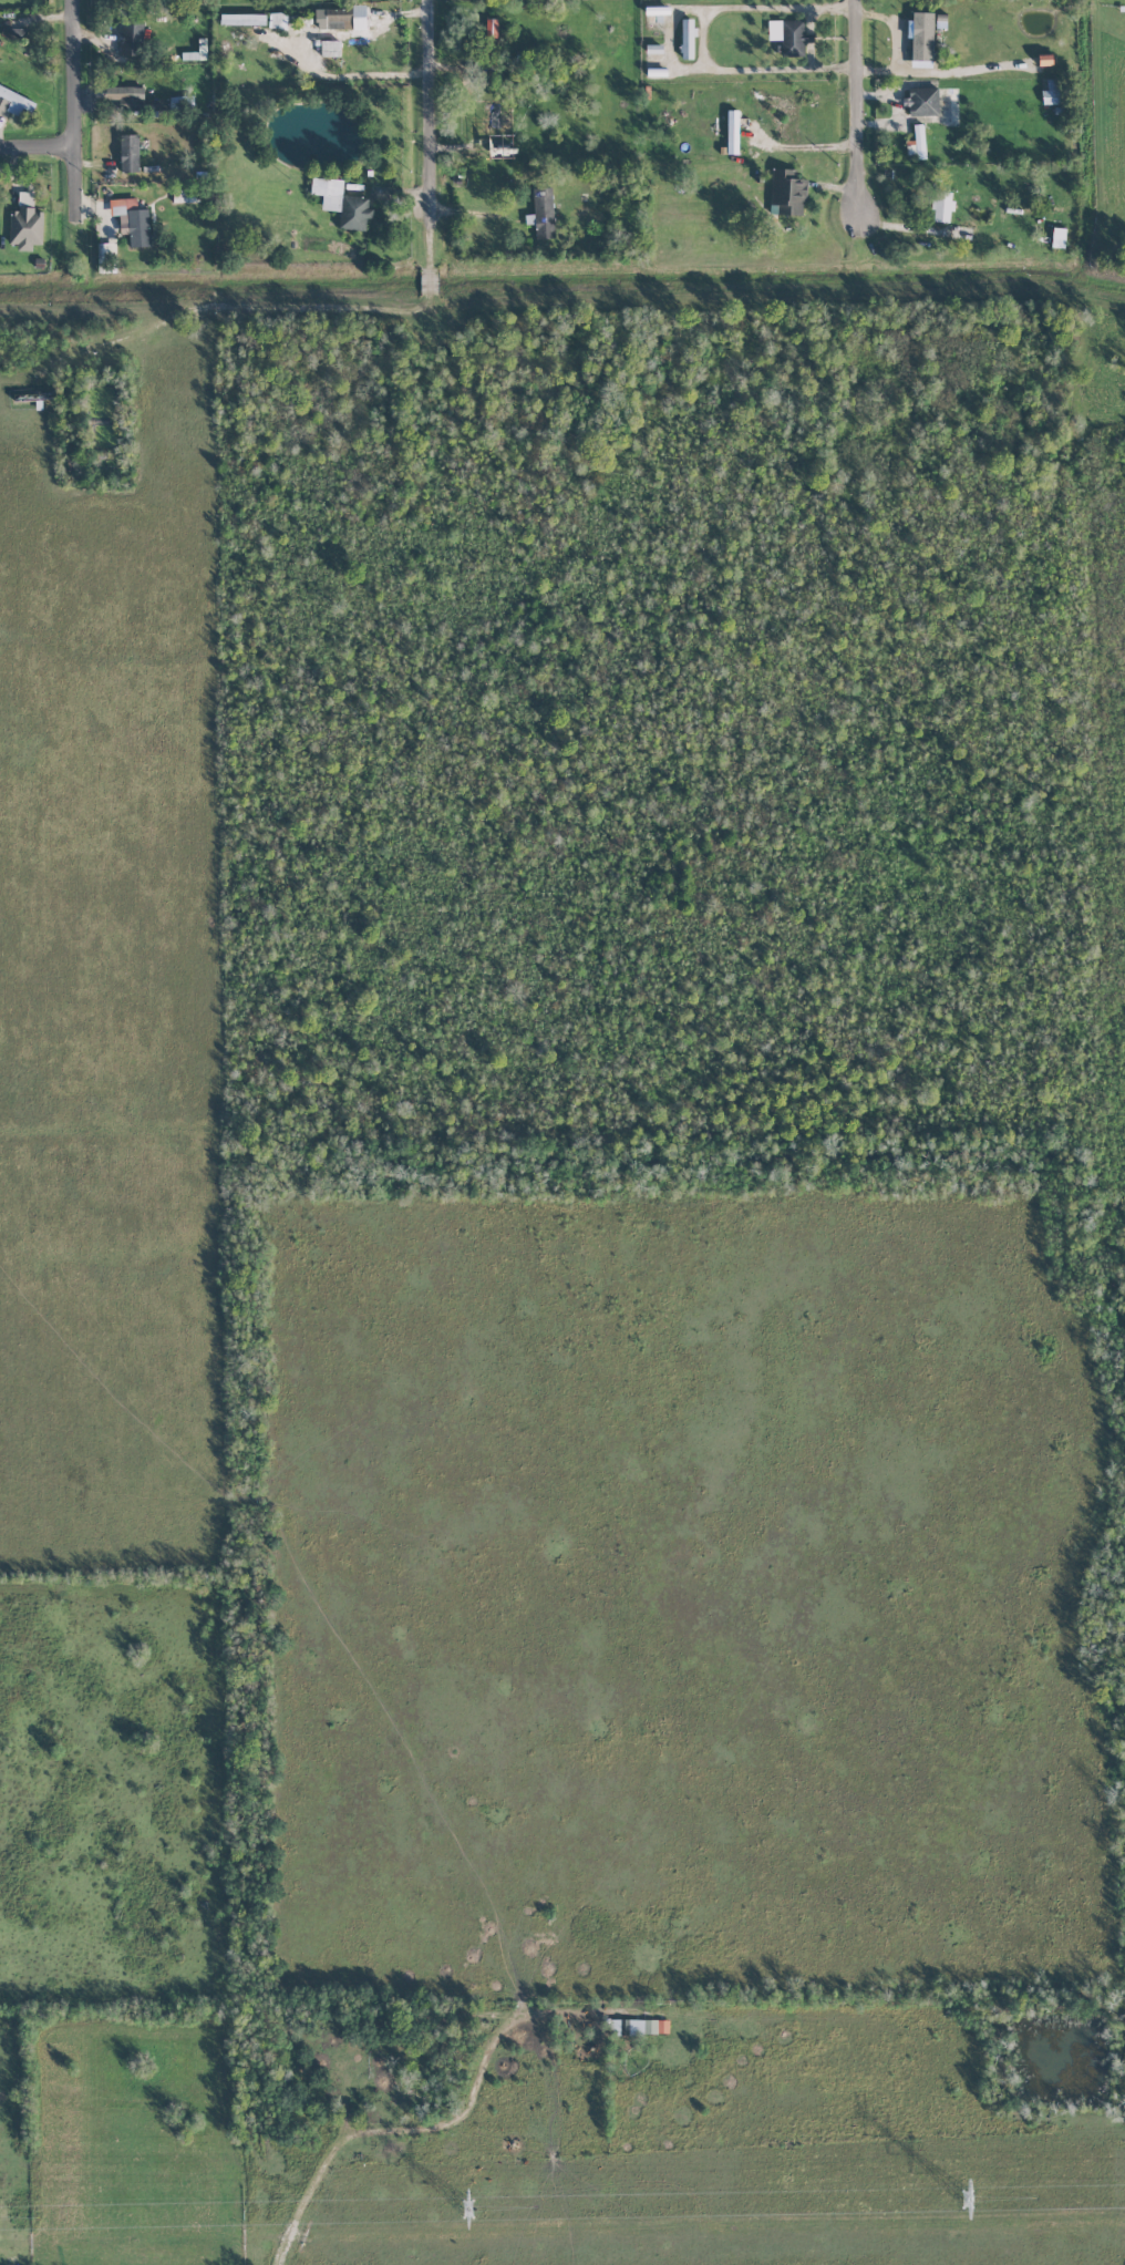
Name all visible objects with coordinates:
building: (340, 18)
building: (242, 19)
building: (278, 20)
building: (491, 30)
building: (11, 33)
building: (789, 35)
building: (921, 35)
building: (132, 37)
building: (688, 39)
road: (701, 39)
building: (330, 48)
building: (653, 49)
building: (194, 55)
building: (1044, 60)
road: (80, 74)
building: (1051, 92)
building: (144, 100)
building: (922, 101)
building: (13, 102)
road: (854, 115)
building: (732, 132)
building: (917, 142)
building: (1034, 146)
road: (41, 150)
road: (807, 151)
building: (128, 152)
road: (435, 153)
building: (787, 192)
building: (342, 203)
building: (942, 206)
building: (1016, 209)
building: (543, 213)
building: (132, 220)
building: (25, 224)
building: (1057, 237)
building: (103, 254)
road: (228, 306)
building: (639, 2027)
road: (504, 2035)
road: (338, 2144)
power tower: (967, 2199)
power tower: (467, 2210)

